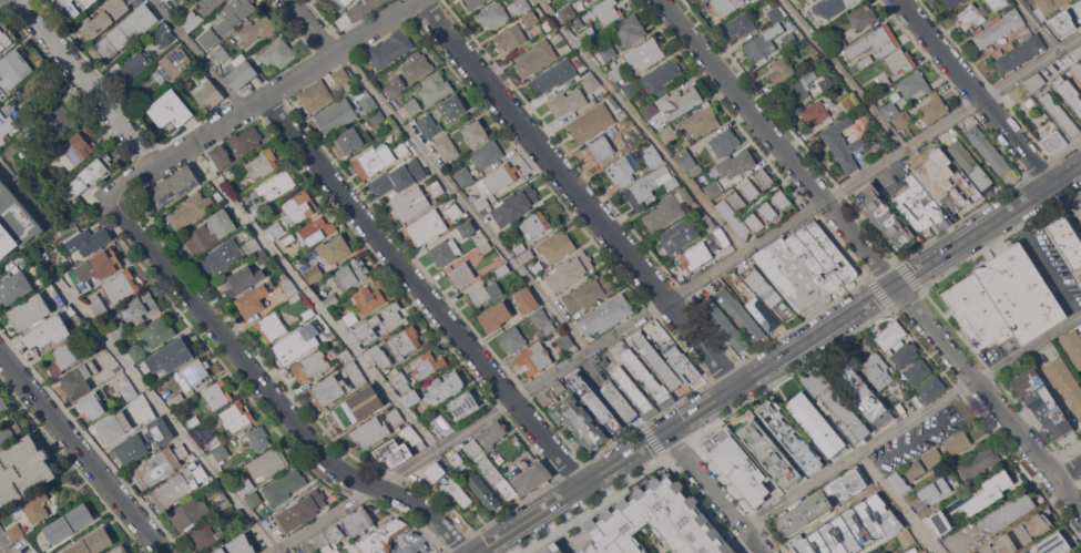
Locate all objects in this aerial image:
building: (182, 0)
building: (584, 0)
building: (587, 0)
building: (756, 0)
building: (215, 2)
building: (340, 2)
building: (473, 3)
building: (949, 3)
building: (997, 4)
building: (1050, 4)
building: (521, 6)
building: (723, 6)
building: (73, 7)
building: (829, 7)
building: (363, 8)
building: (1078, 8)
building: (236, 9)
building: (606, 11)
building: (567, 12)
building: (492, 14)
building: (775, 14)
building: (971, 14)
building: (861, 16)
building: (102, 18)
building: (530, 19)
building: (191, 20)
building: (1062, 22)
building: (547, 24)
building: (740, 24)
road: (1038, 24)
road: (310, 27)
building: (998, 29)
building: (254, 30)
building: (628, 31)
building: (124, 32)
building: (552, 33)
building: (587, 33)
building: (6, 34)
building: (164, 34)
building: (210, 34)
building: (510, 37)
building: (598, 39)
building: (791, 39)
building: (763, 42)
building: (839, 42)
building: (873, 42)
building: (390, 48)
building: (608, 51)
building: (277, 53)
building: (1020, 53)
building: (221, 54)
building: (644, 54)
road: (198, 55)
building: (536, 58)
building: (816, 59)
building: (899, 61)
building: (865, 62)
building: (174, 64)
building: (134, 65)
building: (416, 66)
building: (854, 66)
building: (14, 69)
building: (781, 71)
building: (1077, 71)
building: (616, 72)
building: (241, 74)
road: (844, 74)
building: (553, 75)
building: (340, 76)
building: (660, 76)
building: (883, 79)
building: (591, 82)
road: (85, 83)
building: (826, 83)
building: (914, 83)
building: (395, 85)
building: (799, 86)
building: (435, 88)
building: (630, 88)
road: (976, 92)
road: (549, 93)
building: (1069, 93)
building: (208, 94)
building: (315, 95)
road: (265, 96)
building: (568, 102)
building: (680, 102)
building: (849, 102)
building: (614, 103)
building: (367, 104)
building: (1051, 104)
building: (412, 105)
building: (452, 105)
building: (890, 105)
building: (934, 107)
building: (647, 110)
building: (823, 111)
building: (173, 112)
building: (335, 116)
building: (376, 116)
building: (10, 119)
building: (900, 120)
building: (61, 121)
building: (701, 121)
building: (591, 122)
building: (429, 125)
road: (641, 125)
building: (475, 132)
building: (667, 133)
building: (351, 137)
building: (246, 140)
building: (630, 140)
building: (1053, 141)
building: (725, 142)
building: (843, 143)
building: (400, 145)
building: (446, 147)
building: (77, 149)
building: (600, 149)
building: (991, 153)
building: (487, 154)
building: (220, 155)
building: (651, 158)
building: (686, 158)
building: (374, 160)
building: (263, 163)
building: (736, 164)
building: (970, 165)
building: (96, 170)
building: (623, 170)
building: (230, 174)
building: (463, 176)
building: (398, 177)
building: (763, 177)
building: (671, 183)
building: (493, 184)
building: (173, 185)
building: (276, 185)
building: (436, 187)
building: (644, 187)
building: (713, 188)
building: (749, 190)
road: (580, 192)
road: (26, 194)
building: (685, 195)
building: (953, 197)
building: (782, 199)
road: (465, 201)
building: (736, 201)
building: (409, 204)
building: (514, 204)
building: (300, 206)
building: (918, 206)
building: (1077, 207)
building: (191, 209)
building: (453, 211)
building: (767, 211)
building: (256, 212)
building: (663, 213)
building: (883, 216)
building: (733, 217)
building: (16, 221)
building: (754, 222)
building: (534, 224)
building: (710, 224)
building: (1079, 226)
building: (427, 227)
building: (467, 228)
building: (275, 229)
building: (316, 229)
building: (211, 232)
building: (679, 235)
building: (722, 236)
building: (1067, 239)
building: (86, 240)
building: (288, 242)
building: (252, 245)
building: (557, 246)
building: (486, 247)
building: (335, 248)
building: (519, 248)
building: (445, 252)
road: (870, 252)
building: (527, 255)
building: (223, 256)
building: (261, 256)
building: (695, 256)
road: (1039, 257)
building: (537, 266)
building: (805, 266)
building: (98, 267)
building: (502, 269)
road: (6, 272)
building: (354, 272)
building: (569, 272)
building: (314, 274)
building: (460, 274)
building: (282, 275)
building: (244, 279)
building: (1080, 283)
building: (121, 286)
building: (14, 287)
building: (290, 290)
road: (422, 291)
building: (767, 291)
building: (486, 293)
road: (679, 293)
building: (588, 294)
building: (371, 295)
road: (315, 297)
building: (254, 298)
building: (330, 299)
building: (1004, 299)
building: (526, 300)
building: (98, 305)
building: (141, 307)
building: (30, 311)
building: (307, 314)
building: (740, 314)
building: (762, 314)
building: (606, 315)
building: (494, 316)
building: (540, 317)
building: (350, 318)
building: (724, 322)
building: (392, 324)
building: (272, 326)
building: (549, 327)
building: (1080, 327)
building: (119, 329)
building: (50, 330)
building: (152, 337)
building: (512, 339)
building: (564, 341)
building: (298, 342)
building: (404, 342)
building: (897, 344)
building: (1072, 347)
building: (94, 348)
building: (373, 350)
building: (171, 355)
building: (62, 357)
building: (346, 357)
building: (534, 358)
road: (778, 360)
building: (656, 361)
building: (390, 365)
building: (427, 365)
building: (312, 366)
building: (685, 368)
building: (876, 369)
building: (195, 371)
building: (918, 371)
building: (356, 373)
building: (645, 376)
building: (79, 380)
building: (816, 381)
building: (401, 382)
building: (1064, 382)
building: (126, 388)
building: (443, 388)
building: (931, 388)
building: (632, 389)
building: (327, 390)
building: (551, 393)
building: (216, 395)
road: (274, 395)
building: (412, 397)
building: (865, 397)
building: (175, 399)
building: (619, 401)
building: (1041, 401)
building: (2, 403)
building: (463, 403)
building: (596, 403)
building: (92, 406)
building: (802, 407)
building: (354, 408)
building: (147, 413)
road: (167, 416)
building: (236, 416)
building: (846, 416)
building: (395, 417)
building: (193, 421)
building: (579, 422)
building: (441, 423)
road: (914, 424)
building: (110, 428)
building: (160, 431)
building: (369, 432)
building: (410, 434)
building: (492, 434)
building: (6, 436)
building: (258, 437)
building: (789, 438)
building: (213, 442)
building: (958, 442)
building: (473, 448)
building: (132, 449)
road: (82, 450)
building: (221, 452)
building: (392, 452)
building: (768, 453)
building: (934, 458)
building: (457, 460)
building: (979, 461)
building: (268, 464)
building: (159, 465)
building: (736, 465)
building: (914, 470)
building: (22, 471)
building: (436, 472)
building: (528, 475)
building: (497, 478)
road: (1072, 478)
building: (441, 480)
building: (899, 482)
building: (246, 484)
building: (177, 487)
building: (284, 487)
building: (931, 491)
building: (990, 491)
building: (457, 492)
building: (485, 492)
road: (714, 492)
building: (253, 499)
building: (221, 500)
building: (819, 502)
road: (904, 504)
building: (37, 508)
building: (303, 509)
building: (928, 509)
building: (226, 512)
building: (1008, 512)
building: (188, 513)
building: (955, 515)
building: (655, 520)
building: (358, 521)
building: (69, 523)
building: (877, 530)
building: (1027, 530)
building: (14, 532)
building: (336, 534)
building: (204, 536)
building: (383, 537)
building: (907, 537)
building: (92, 542)
building: (807, 544)
building: (241, 545)
building: (1053, 545)
building: (855, 546)
road: (3, 547)
building: (120, 549)
building: (553, 549)
building: (981, 550)
building: (220, 551)
building: (335, 551)
building: (839, 551)
building: (1074, 552)

